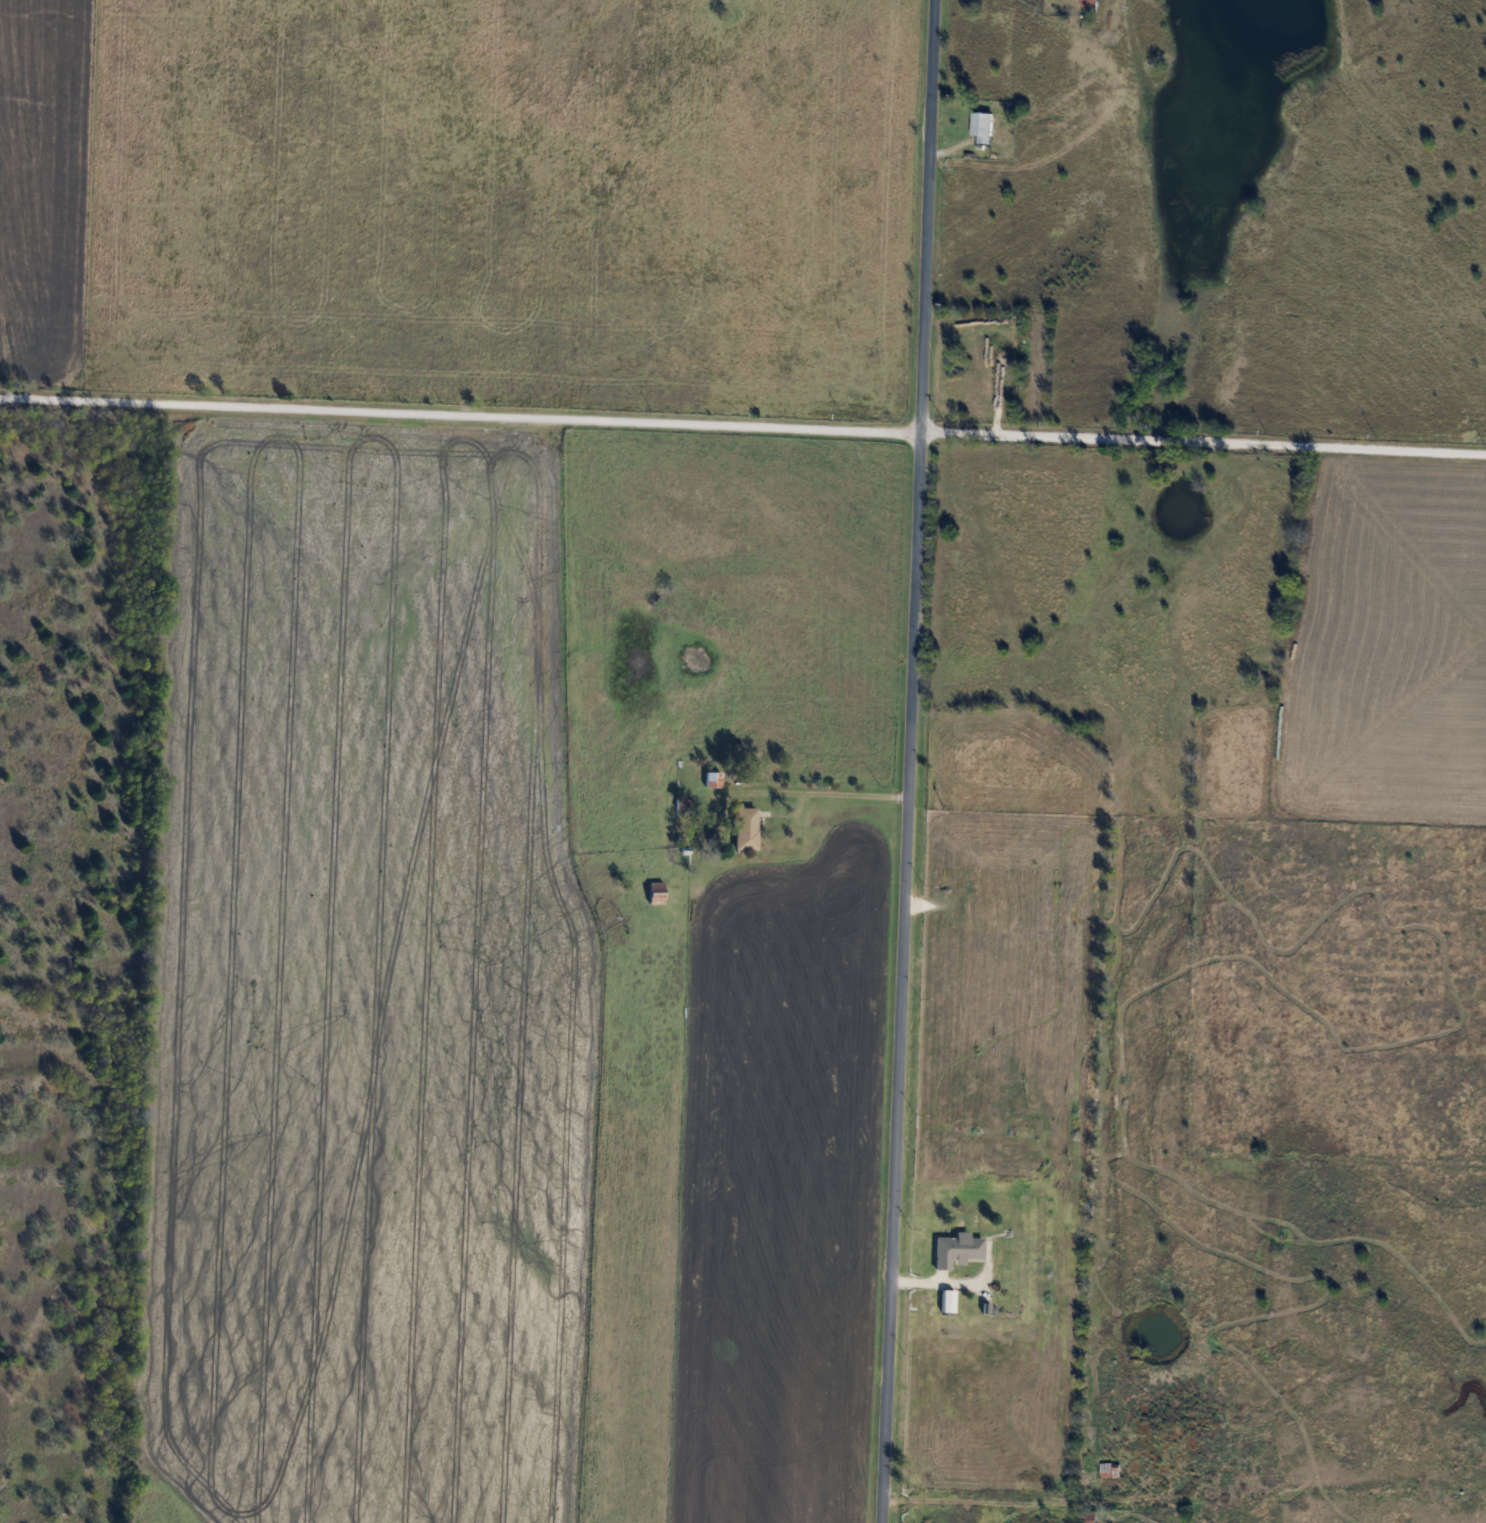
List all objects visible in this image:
building: (1088, 3)
building: (982, 127)
road: (743, 425)
road: (906, 761)
building: (712, 779)
road: (823, 789)
building: (684, 804)
building: (745, 828)
building: (656, 892)
building: (959, 1247)
road: (947, 1282)
building: (1109, 1471)
building: (1045, 1518)

